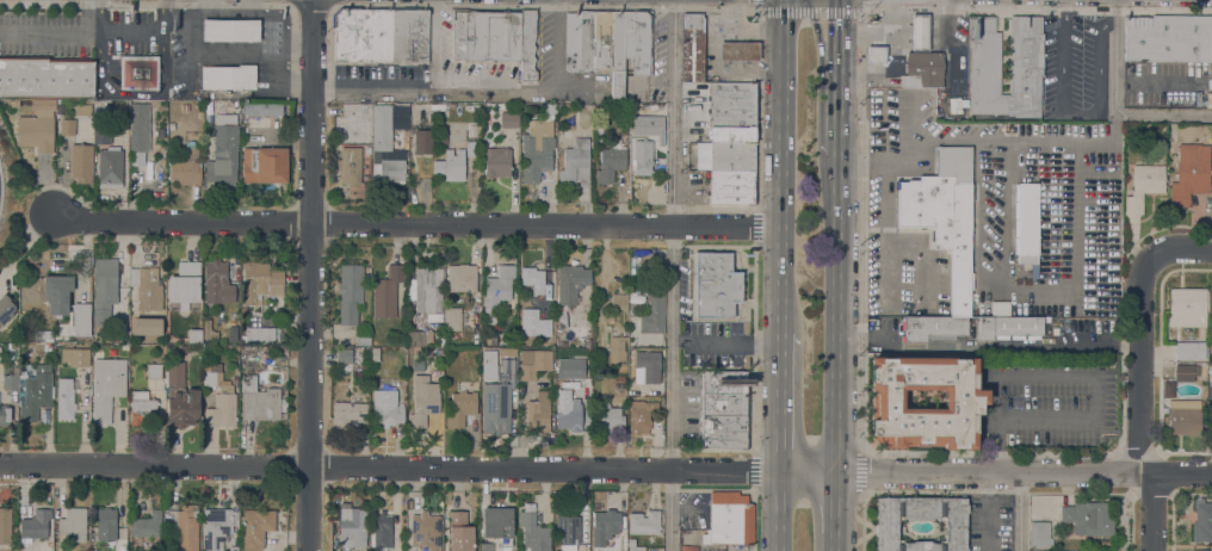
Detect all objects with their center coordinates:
road: (311, 4)
road: (548, 4)
road: (144, 5)
road: (811, 7)
road: (219, 12)
road: (99, 14)
road: (162, 16)
road: (737, 20)
road: (760, 29)
building: (230, 30)
road: (50, 31)
road: (131, 31)
building: (919, 31)
building: (361, 33)
road: (285, 35)
building: (409, 35)
building: (486, 35)
road: (753, 35)
road: (298, 37)
building: (1167, 38)
building: (1211, 38)
building: (579, 41)
building: (526, 43)
building: (601, 45)
building: (692, 47)
building: (627, 48)
road: (716, 48)
road: (821, 48)
road: (837, 49)
road: (737, 50)
building: (738, 50)
road: (753, 50)
building: (876, 54)
building: (1025, 55)
road: (753, 63)
building: (926, 67)
road: (755, 68)
building: (138, 72)
building: (228, 76)
building: (910, 81)
road: (478, 89)
building: (43, 92)
road: (134, 93)
road: (1114, 103)
building: (155, 104)
building: (732, 105)
building: (185, 106)
building: (84, 109)
building: (262, 109)
building: (60, 110)
road: (1077, 110)
building: (626, 111)
building: (509, 119)
building: (638, 119)
building: (283, 120)
building: (171, 125)
road: (836, 125)
building: (67, 126)
building: (382, 126)
building: (624, 129)
building: (138, 131)
building: (101, 132)
building: (471, 132)
building: (732, 135)
building: (422, 141)
building: (538, 146)
building: (367, 149)
building: (660, 149)
building: (697, 150)
building: (223, 151)
building: (643, 156)
building: (731, 156)
building: (575, 159)
building: (497, 161)
building: (610, 161)
building: (81, 162)
building: (265, 165)
building: (350, 165)
building: (451, 165)
building: (186, 166)
building: (110, 167)
road: (780, 167)
building: (389, 171)
building: (1191, 172)
building: (1144, 185)
building: (731, 187)
building: (942, 215)
building: (1026, 223)
road: (414, 224)
road: (1180, 250)
building: (367, 268)
road: (308, 274)
road: (670, 274)
building: (460, 277)
building: (533, 278)
building: (105, 280)
building: (217, 281)
building: (571, 281)
building: (185, 283)
building: (260, 284)
building: (716, 284)
building: (426, 287)
building: (148, 289)
building: (389, 290)
building: (496, 291)
building: (57, 292)
building: (350, 292)
building: (635, 293)
building: (618, 301)
building: (1187, 305)
building: (5, 307)
building: (243, 310)
building: (653, 311)
road: (836, 312)
building: (100, 315)
building: (434, 316)
building: (124, 318)
building: (452, 318)
building: (561, 318)
building: (610, 318)
building: (1046, 318)
building: (1211, 320)
building: (81, 321)
building: (543, 327)
building: (932, 327)
building: (1009, 327)
building: (1046, 328)
building: (208, 329)
building: (258, 334)
building: (194, 335)
building: (419, 338)
building: (440, 339)
building: (363, 340)
building: (490, 340)
building: (43, 345)
building: (124, 347)
building: (617, 348)
building: (1189, 349)
building: (438, 351)
building: (75, 355)
building: (344, 355)
building: (489, 357)
building: (647, 359)
building: (534, 363)
building: (363, 365)
road: (1140, 365)
building: (579, 366)
building: (154, 370)
building: (1183, 372)
building: (175, 377)
building: (10, 379)
building: (234, 379)
road: (1094, 379)
building: (106, 386)
building: (36, 390)
building: (259, 391)
building: (1210, 391)
building: (66, 397)
building: (219, 397)
building: (965, 397)
building: (423, 400)
road: (780, 403)
building: (387, 405)
building: (141, 407)
building: (183, 407)
building: (495, 407)
building: (460, 408)
building: (724, 409)
building: (538, 411)
building: (4, 413)
building: (347, 414)
building: (569, 414)
building: (641, 415)
building: (608, 417)
building: (1183, 417)
building: (1211, 423)
road: (988, 451)
road: (1000, 452)
road: (606, 469)
road: (778, 510)
road: (835, 512)
road: (987, 512)
road: (1018, 513)
road: (1024, 513)
road: (1155, 513)
building: (1090, 516)
building: (728, 519)
building: (644, 521)
building: (1201, 521)
building: (74, 522)
building: (35, 524)
building: (106, 524)
building: (5, 525)
building: (147, 525)
building: (497, 525)
building: (605, 525)
building: (186, 527)
building: (217, 527)
building: (255, 527)
building: (352, 527)
building: (533, 530)
building: (567, 530)
building: (954, 530)
building: (382, 531)
building: (425, 531)
building: (459, 532)
building: (1039, 533)
building: (140, 543)
building: (633, 545)
building: (486, 546)
building: (233, 547)
building: (618, 547)
building: (688, 547)
building: (1199, 550)

